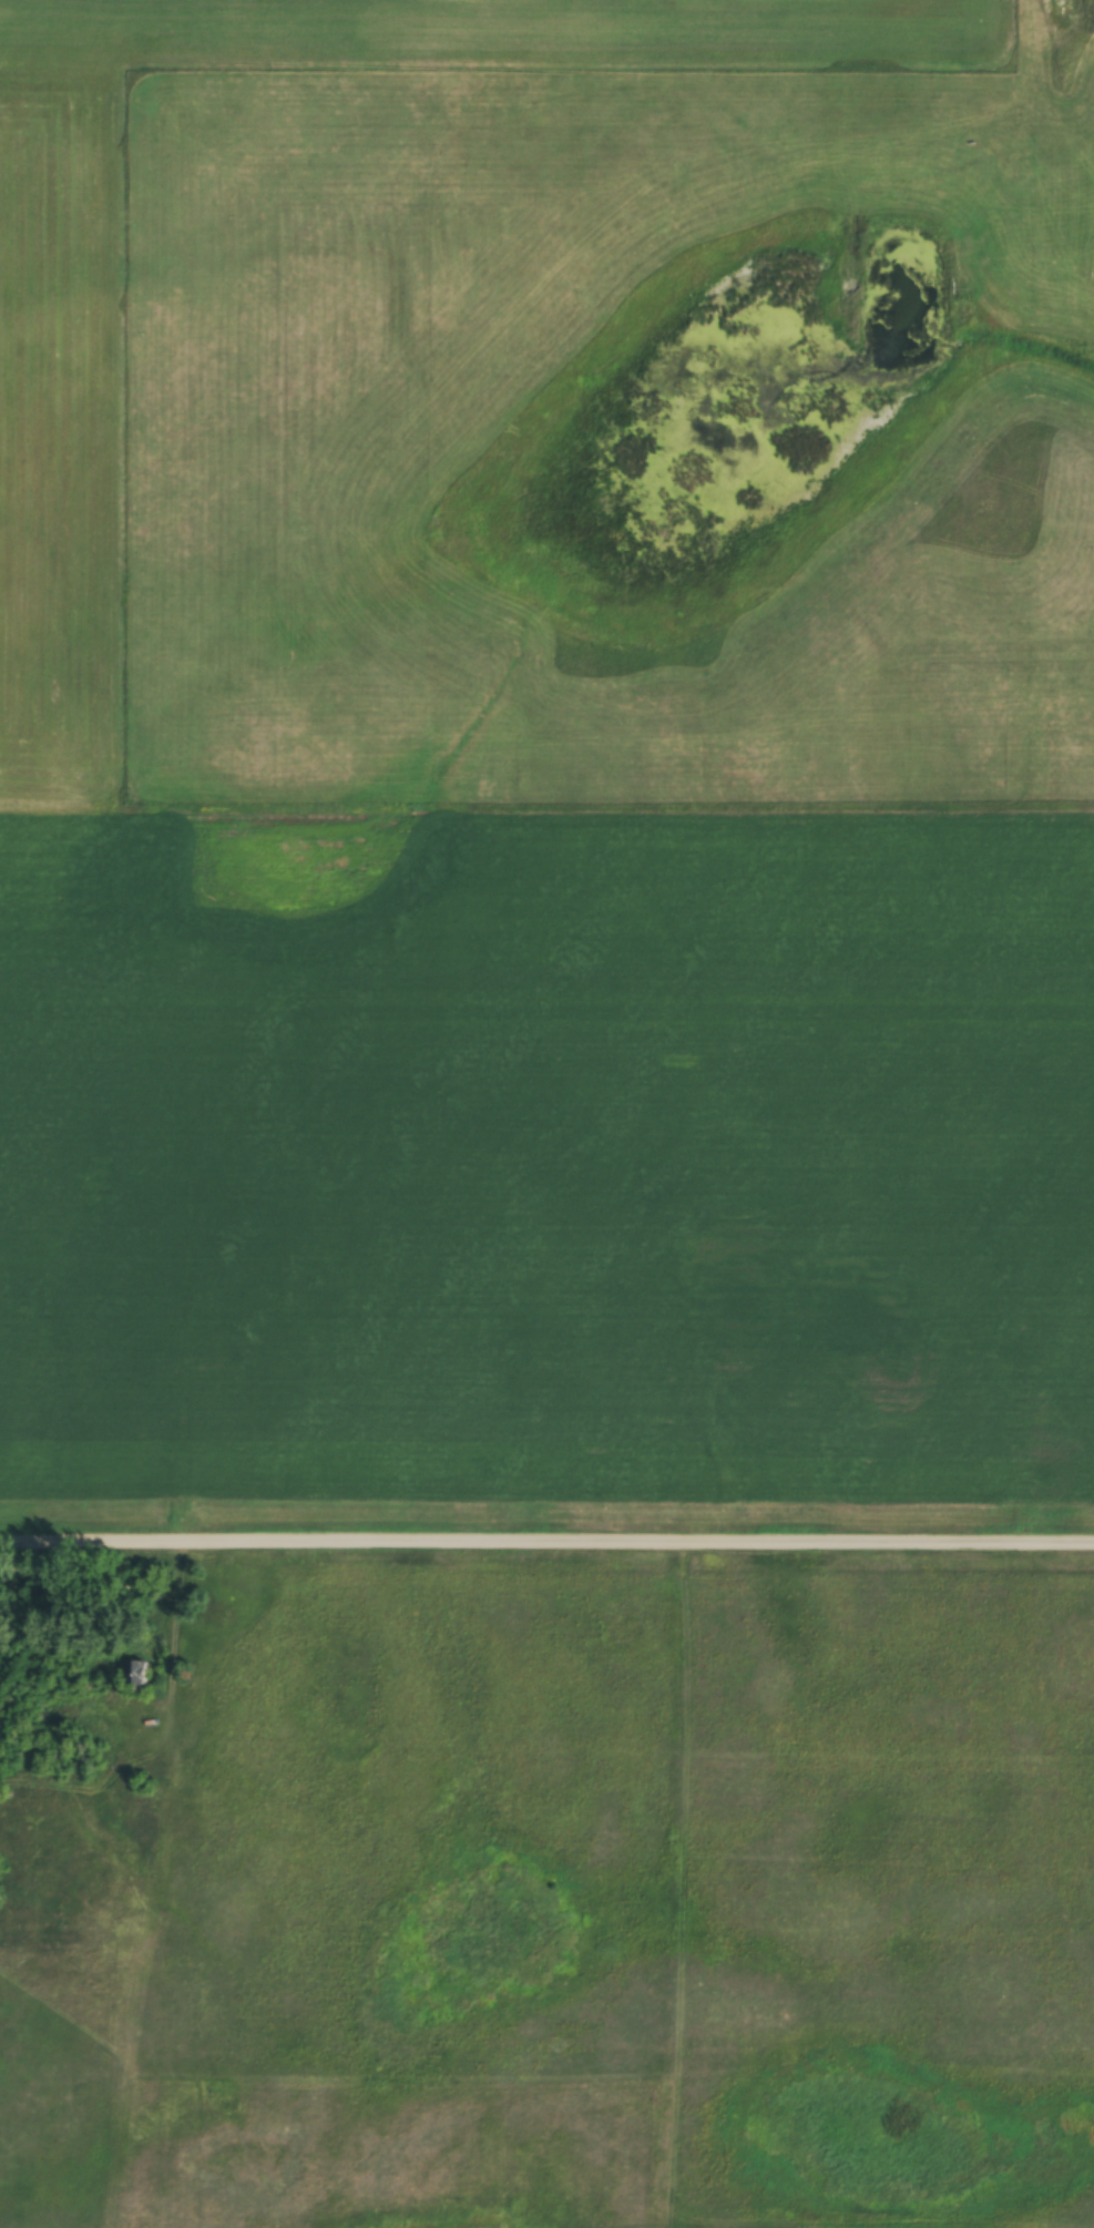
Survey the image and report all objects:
road: (546, 1533)
road: (175, 1616)
building: (136, 1677)

